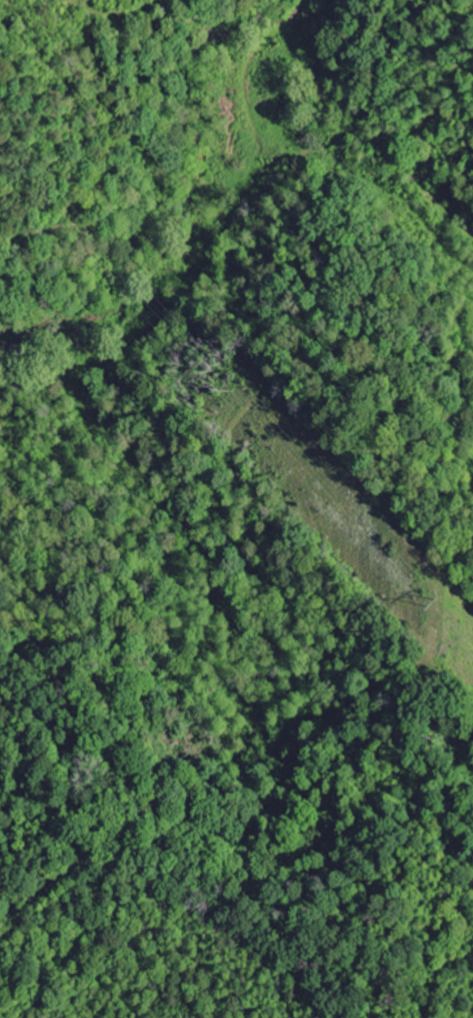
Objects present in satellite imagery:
road: (213, 254)
power tower: (440, 604)

